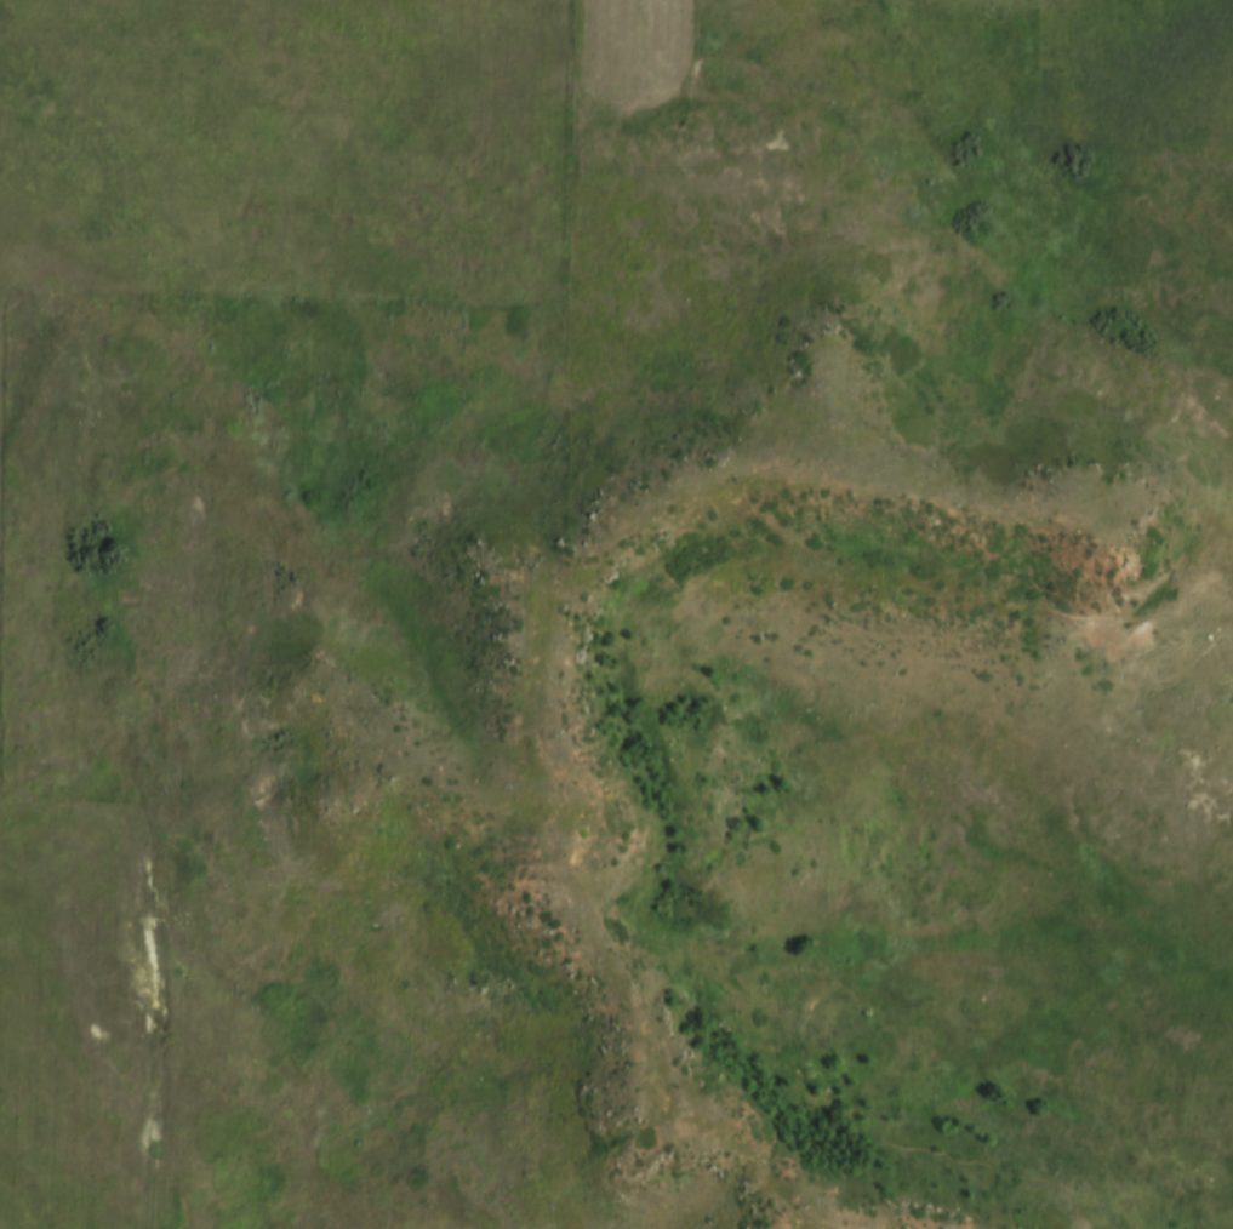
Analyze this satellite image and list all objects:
road: (1046, 162)

